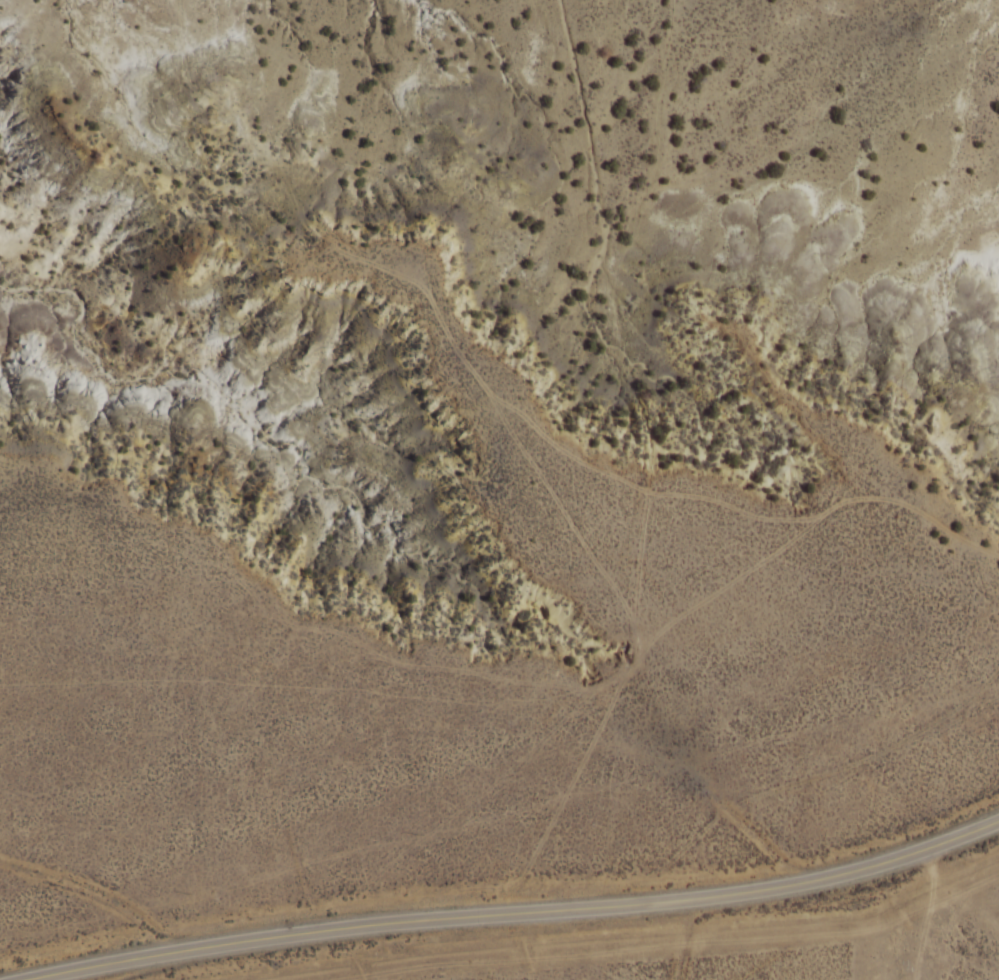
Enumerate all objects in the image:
road: (515, 914)

